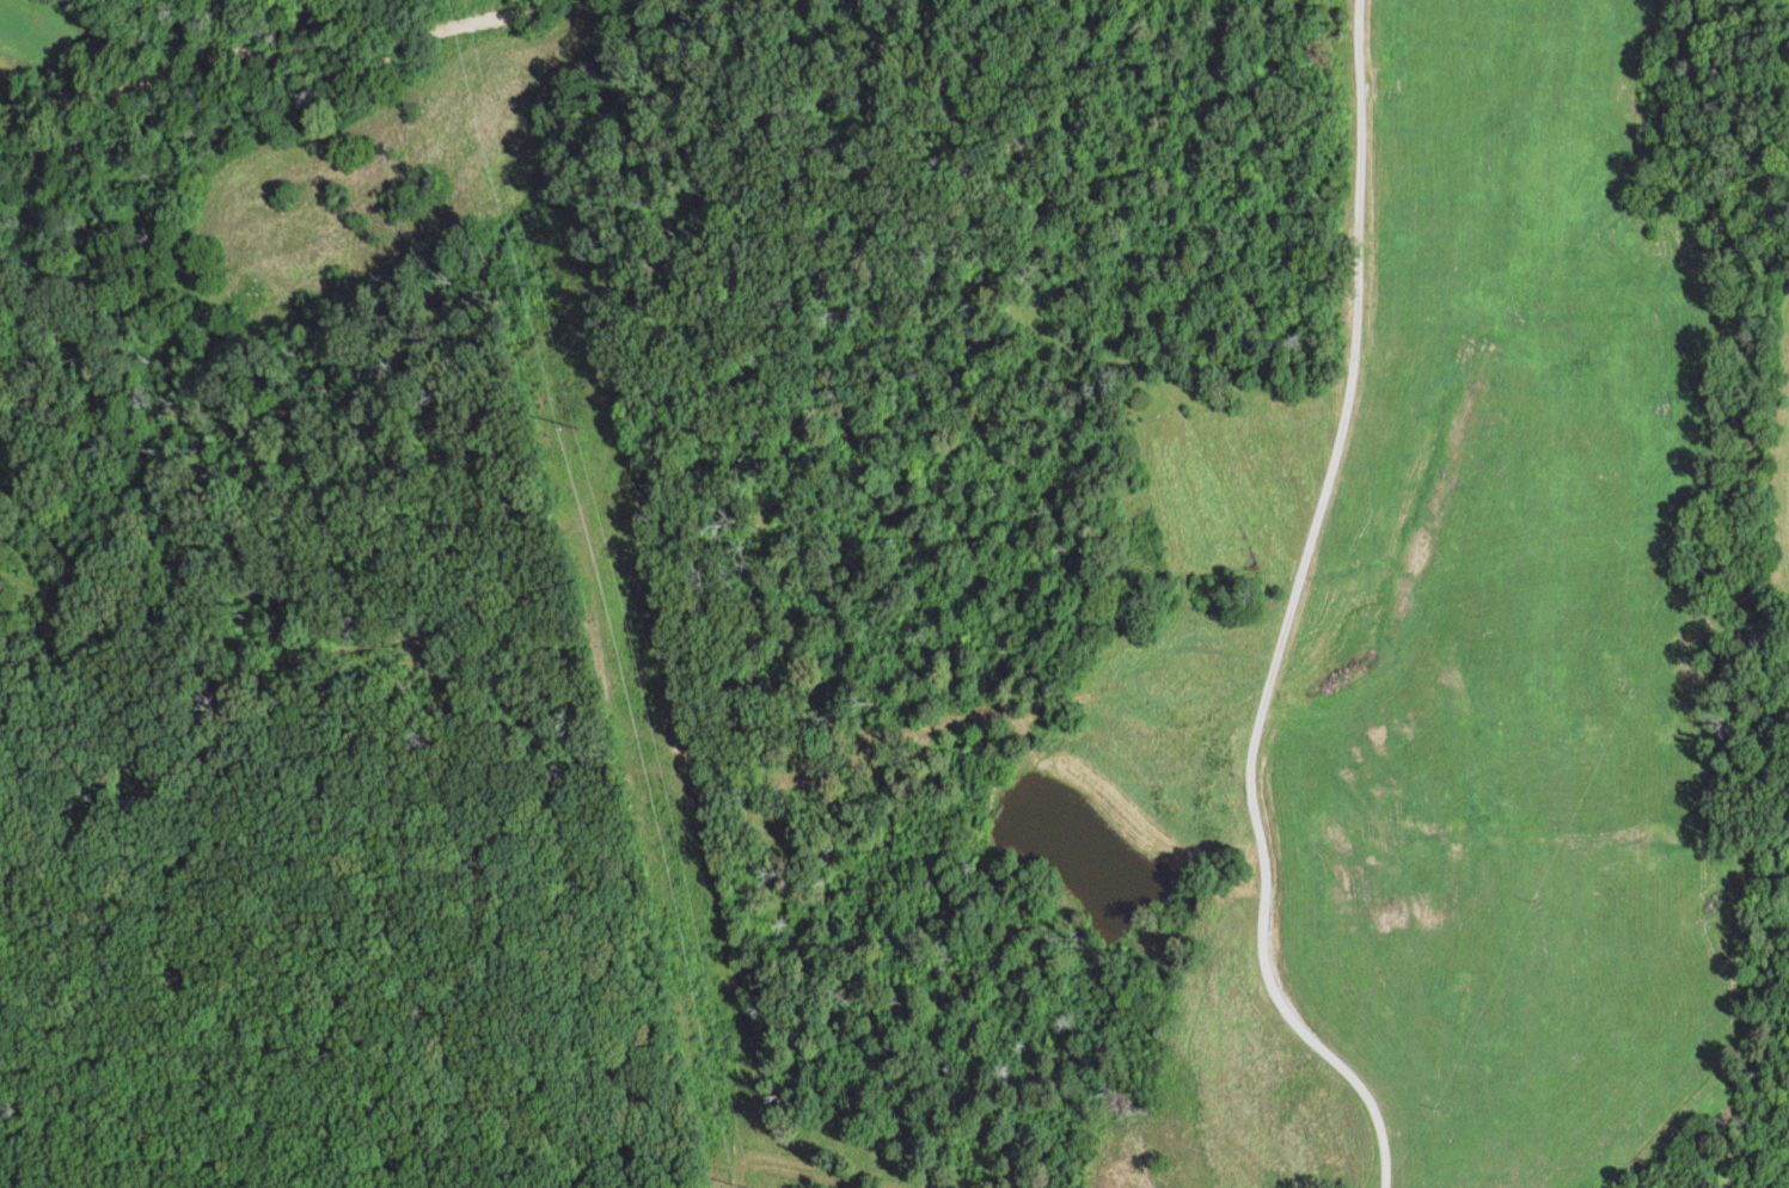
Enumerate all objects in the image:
road: (1287, 614)

